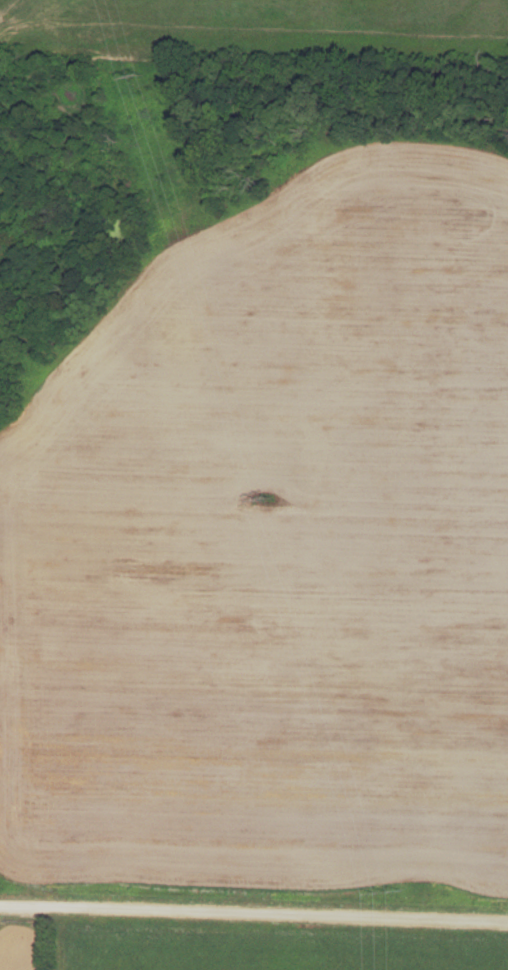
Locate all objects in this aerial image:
power tower: (141, 73)
power tower: (266, 499)
power tower: (387, 892)
road: (253, 914)

